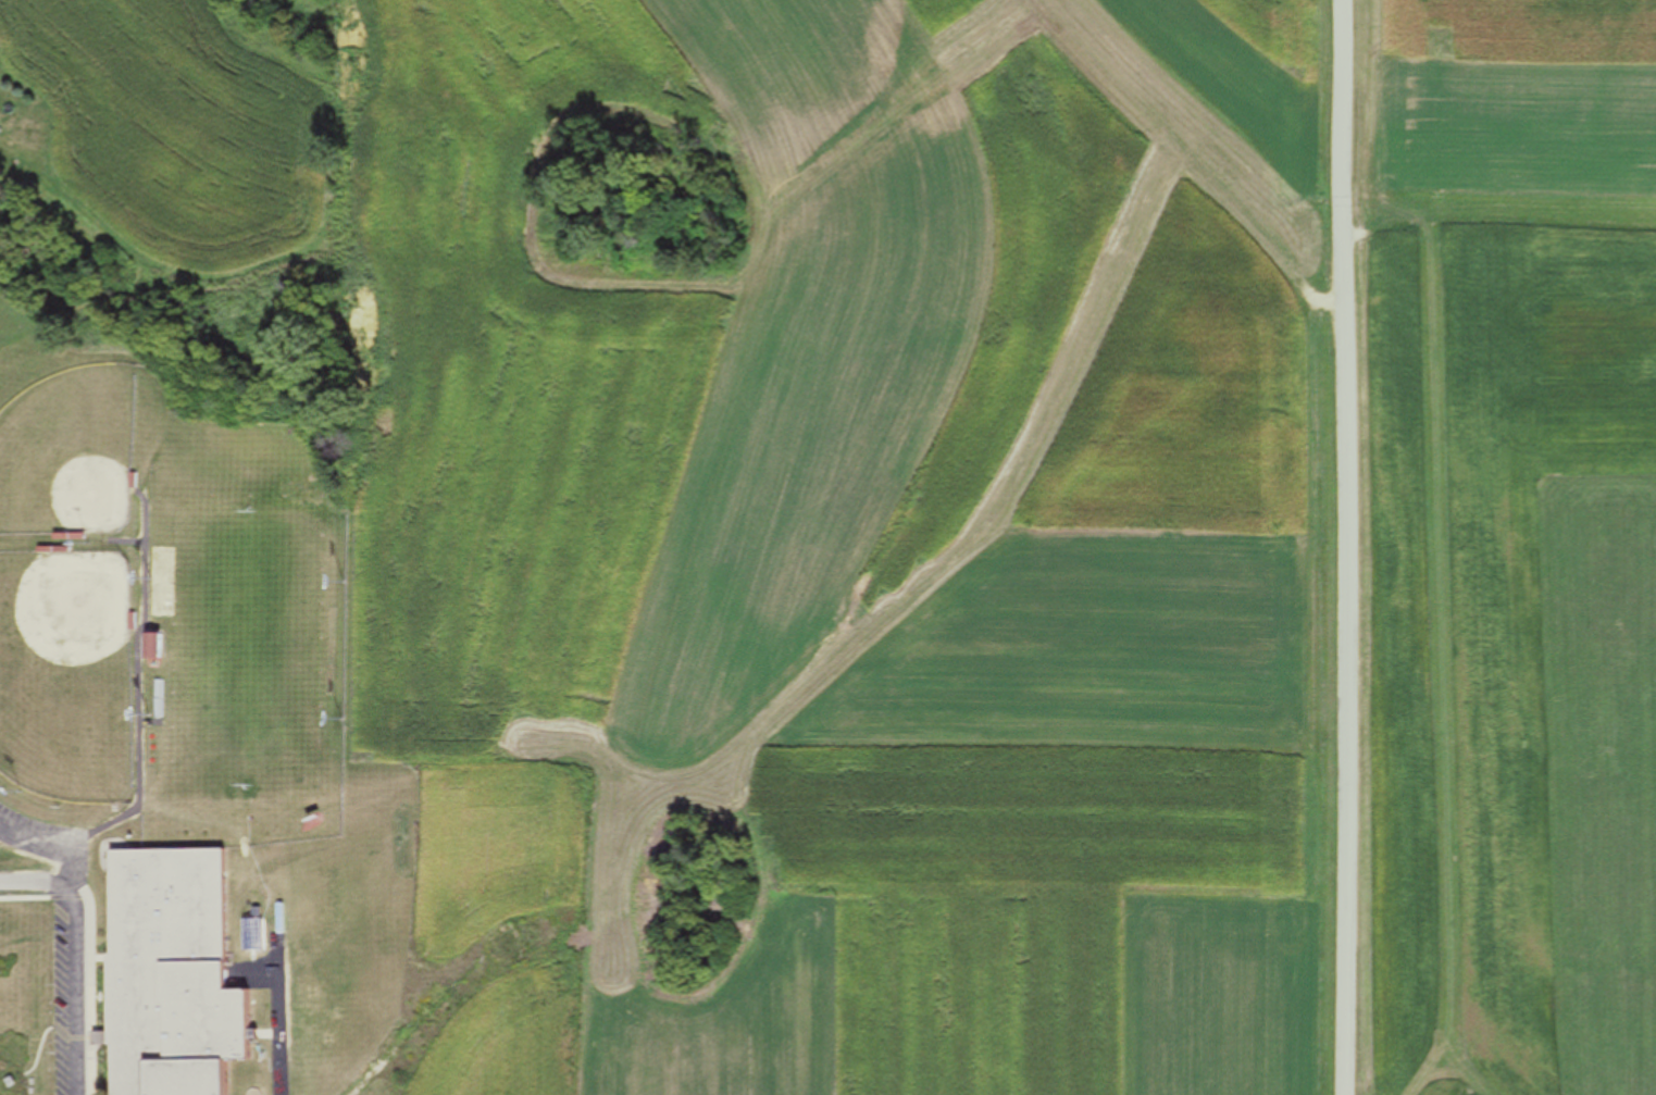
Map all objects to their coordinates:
road: (1340, 335)
building: (146, 647)
road: (35, 880)
road: (1343, 882)
road: (74, 942)
building: (165, 975)

